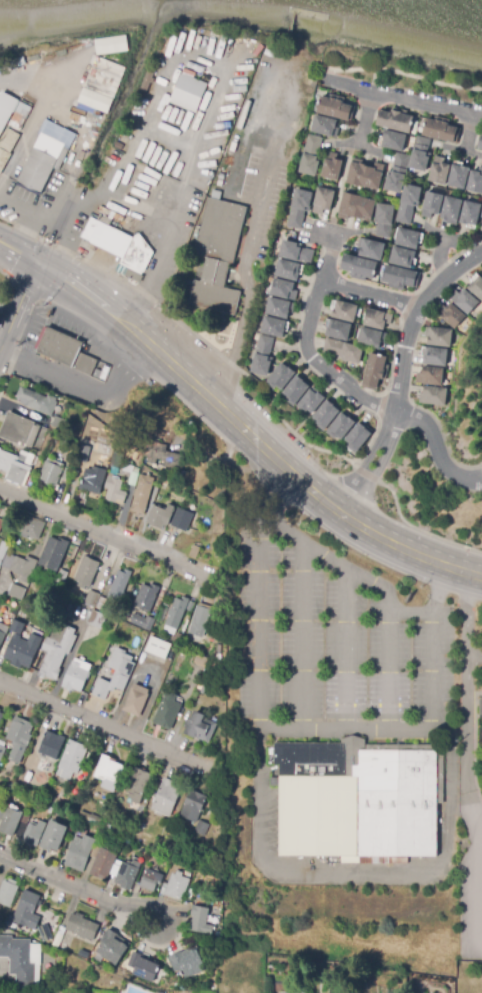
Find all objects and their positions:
river: (460, 4)
pier: (310, 12)
pier: (291, 28)
building: (110, 45)
road: (175, 56)
road: (399, 72)
park: (403, 77)
road: (371, 81)
building: (100, 86)
building: (187, 94)
road: (403, 100)
building: (336, 108)
building: (7, 109)
road: (53, 110)
road: (363, 118)
building: (396, 120)
building: (325, 126)
building: (441, 130)
road: (467, 131)
building: (394, 141)
building: (480, 143)
road: (357, 144)
road: (463, 148)
building: (420, 154)
building: (47, 155)
building: (311, 156)
building: (332, 167)
building: (439, 171)
building: (397, 173)
building: (365, 175)
building: (458, 177)
road: (3, 181)
building: (476, 182)
road: (66, 185)
building: (218, 187)
road: (339, 188)
building: (323, 200)
building: (408, 204)
building: (432, 205)
building: (356, 207)
building: (300, 208)
building: (451, 210)
building: (470, 213)
building: (481, 218)
building: (384, 220)
building: (216, 231)
road: (333, 234)
building: (110, 236)
building: (408, 239)
road: (247, 249)
building: (371, 249)
road: (13, 250)
building: (296, 252)
road: (434, 255)
building: (402, 257)
road: (36, 262)
road: (152, 265)
traffic signals: (46, 267)
building: (359, 268)
building: (288, 270)
building: (213, 274)
building: (401, 278)
building: (477, 287)
building: (284, 290)
road: (370, 291)
building: (214, 300)
building: (464, 301)
road: (18, 306)
building: (279, 308)
building: (345, 311)
road: (413, 315)
building: (451, 315)
building: (377, 319)
building: (273, 327)
building: (339, 330)
building: (438, 337)
building: (372, 338)
road: (305, 344)
building: (69, 349)
building: (343, 351)
building: (263, 356)
building: (435, 357)
building: (375, 371)
building: (430, 376)
building: (281, 377)
road: (83, 389)
building: (295, 390)
building: (433, 396)
building: (37, 399)
building: (311, 401)
building: (326, 415)
building: (59, 423)
building: (341, 427)
building: (18, 428)
building: (358, 437)
road: (253, 439)
road: (435, 446)
building: (163, 456)
building: (80, 458)
building: (71, 459)
building: (116, 460)
road: (367, 461)
building: (11, 468)
building: (131, 472)
building: (67, 474)
building: (50, 475)
building: (92, 481)
building: (165, 482)
building: (114, 491)
building: (142, 494)
building: (158, 497)
building: (160, 516)
building: (182, 520)
building: (1, 523)
building: (31, 528)
road: (107, 535)
building: (3, 550)
building: (194, 551)
building: (57, 559)
building: (19, 566)
road: (349, 570)
building: (86, 572)
building: (119, 584)
building: (16, 592)
building: (146, 596)
building: (91, 598)
building: (101, 604)
building: (176, 612)
road: (467, 616)
building: (201, 618)
building: (96, 619)
building: (142, 622)
building: (17, 627)
building: (1, 637)
road: (304, 638)
building: (158, 648)
building: (56, 650)
building: (23, 651)
road: (347, 651)
road: (474, 659)
building: (201, 660)
road: (391, 672)
building: (115, 675)
building: (76, 676)
building: (209, 687)
building: (136, 700)
building: (480, 707)
building: (167, 711)
building: (1, 713)
building: (1, 717)
road: (101, 722)
building: (200, 727)
road: (468, 731)
road: (294, 732)
building: (19, 738)
building: (51, 745)
building: (2, 752)
building: (71, 760)
building: (41, 765)
building: (31, 773)
building: (109, 773)
building: (137, 785)
building: (166, 798)
building: (359, 800)
building: (193, 806)
building: (2, 811)
building: (117, 815)
road: (474, 815)
building: (86, 816)
building: (10, 822)
building: (95, 822)
road: (480, 826)
building: (106, 828)
building: (202, 828)
building: (30, 832)
building: (54, 838)
building: (94, 852)
building: (79, 853)
building: (103, 863)
building: (128, 873)
road: (360, 875)
building: (150, 880)
building: (177, 886)
road: (80, 888)
road: (478, 891)
building: (8, 892)
building: (27, 911)
building: (200, 920)
building: (82, 927)
building: (112, 947)
building: (83, 954)
building: (18, 961)
building: (187, 962)
building: (122, 965)
building: (142, 966)

